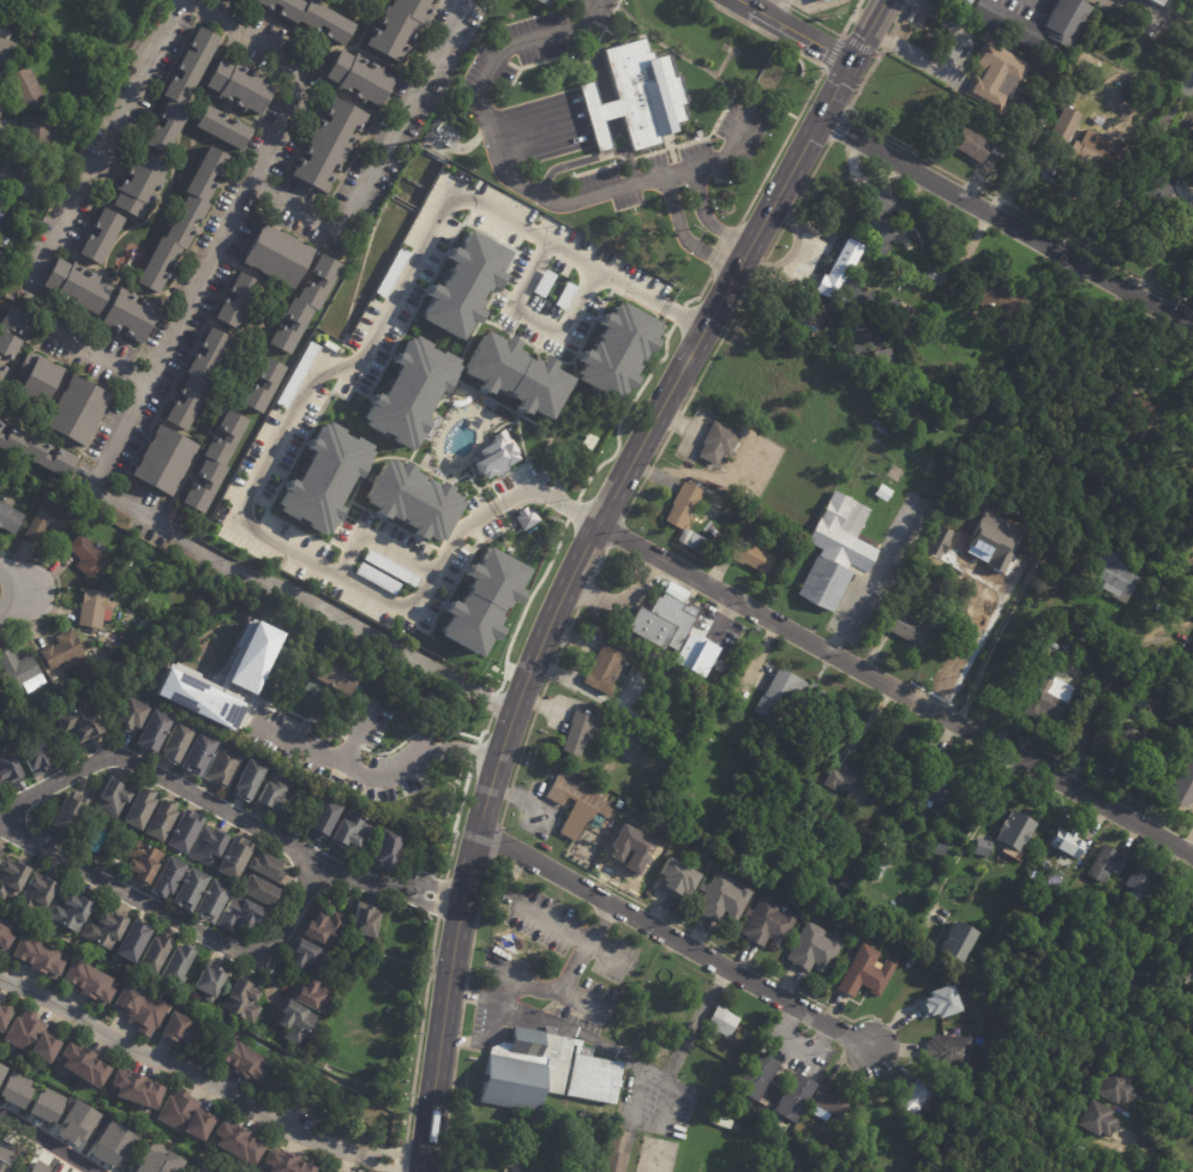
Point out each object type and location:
building: (239, 0)
building: (820, 0)
road: (1037, 1)
building: (545, 2)
road: (783, 2)
road: (909, 2)
building: (961, 2)
building: (1152, 2)
building: (1174, 5)
road: (774, 7)
building: (313, 18)
road: (1156, 19)
road: (606, 20)
road: (899, 20)
building: (1035, 25)
building: (400, 26)
road: (795, 30)
road: (609, 31)
road: (631, 31)
road: (832, 31)
road: (844, 35)
road: (527, 41)
road: (886, 43)
building: (7, 47)
road: (590, 47)
traffic signals: (851, 61)
road: (947, 62)
road: (532, 64)
road: (512, 65)
road: (298, 67)
building: (360, 77)
building: (995, 77)
building: (1161, 80)
building: (1185, 84)
road: (815, 85)
building: (240, 86)
building: (28, 88)
building: (182, 91)
building: (643, 91)
road: (594, 112)
road: (720, 114)
building: (1095, 120)
building: (1062, 125)
building: (223, 127)
road: (838, 128)
building: (38, 132)
building: (454, 142)
building: (330, 144)
road: (669, 146)
building: (970, 146)
building: (1090, 151)
road: (588, 158)
road: (628, 158)
road: (594, 168)
road: (678, 170)
road: (502, 172)
road: (810, 175)
building: (22, 181)
building: (140, 185)
road: (985, 193)
building: (1175, 202)
building: (903, 205)
building: (2, 209)
building: (41, 212)
road: (311, 215)
road: (705, 217)
road: (787, 217)
building: (876, 220)
building: (186, 222)
road: (1006, 222)
building: (102, 236)
road: (683, 236)
building: (4, 240)
road: (774, 241)
road: (724, 248)
road: (792, 251)
building: (1, 256)
building: (280, 256)
road: (760, 265)
building: (838, 269)
building: (390, 272)
building: (933, 275)
building: (462, 284)
building: (77, 286)
road: (701, 292)
building: (993, 296)
building: (239, 301)
building: (306, 305)
road: (679, 312)
road: (41, 314)
road: (685, 315)
building: (131, 317)
road: (535, 319)
building: (5, 335)
building: (1087, 341)
building: (864, 342)
road: (718, 343)
building: (615, 351)
building: (881, 357)
building: (2, 373)
building: (295, 374)
road: (312, 374)
building: (515, 374)
building: (41, 378)
building: (198, 380)
building: (265, 386)
building: (409, 392)
building: (987, 403)
building: (1187, 407)
building: (79, 410)
road: (623, 413)
building: (977, 415)
building: (1135, 416)
road: (676, 421)
road: (678, 423)
building: (936, 426)
building: (880, 427)
building: (713, 441)
road: (660, 449)
building: (38, 451)
building: (493, 456)
building: (167, 462)
building: (216, 462)
road: (647, 473)
road: (652, 474)
building: (1087, 476)
building: (323, 477)
road: (551, 480)
building: (880, 492)
building: (48, 494)
road: (512, 495)
road: (633, 498)
building: (410, 499)
road: (563, 504)
building: (681, 505)
road: (571, 509)
building: (524, 518)
building: (10, 519)
building: (50, 521)
road: (615, 533)
road: (374, 539)
building: (689, 540)
building: (130, 546)
building: (835, 552)
building: (749, 554)
building: (89, 557)
road: (578, 558)
road: (599, 564)
building: (390, 567)
building: (1114, 572)
road: (874, 575)
building: (925, 576)
building: (376, 578)
building: (113, 589)
road: (26, 590)
road: (58, 591)
building: (127, 591)
road: (583, 593)
building: (481, 601)
road: (526, 605)
building: (94, 607)
road: (623, 608)
road: (572, 617)
building: (663, 621)
road: (349, 624)
road: (1003, 625)
building: (905, 627)
road: (564, 635)
building: (1191, 649)
building: (60, 650)
road: (557, 653)
building: (693, 654)
building: (251, 656)
road: (581, 662)
building: (23, 672)
road: (550, 672)
building: (598, 674)
building: (0, 678)
building: (324, 681)
road: (257, 683)
road: (544, 686)
road: (894, 687)
building: (785, 697)
building: (196, 698)
road: (492, 702)
road: (536, 703)
building: (1049, 703)
road: (540, 704)
road: (250, 711)
building: (136, 716)
building: (84, 722)
road: (316, 725)
road: (432, 727)
building: (155, 729)
building: (575, 729)
road: (356, 733)
building: (1098, 738)
building: (178, 741)
road: (352, 741)
road: (521, 747)
building: (1139, 747)
building: (199, 752)
road: (474, 752)
building: (37, 759)
building: (10, 765)
building: (226, 767)
road: (371, 776)
building: (250, 779)
building: (935, 782)
building: (847, 783)
building: (1182, 786)
building: (1161, 787)
building: (276, 793)
road: (508, 794)
road: (196, 795)
building: (114, 798)
road: (527, 801)
building: (617, 805)
building: (140, 807)
building: (810, 809)
building: (70, 812)
building: (582, 813)
road: (502, 815)
building: (162, 818)
building: (325, 818)
road: (455, 822)
building: (353, 830)
building: (895, 830)
building: (186, 831)
road: (973, 833)
building: (1009, 833)
road: (493, 840)
building: (1065, 843)
building: (211, 847)
building: (389, 847)
building: (981, 847)
building: (827, 849)
building: (1, 857)
building: (236, 857)
building: (945, 859)
building: (143, 863)
building: (1063, 863)
building: (1103, 864)
building: (965, 865)
building: (269, 866)
building: (876, 866)
road: (636, 876)
building: (169, 877)
building: (13, 878)
building: (675, 880)
building: (1137, 880)
road: (401, 884)
road: (437, 886)
building: (191, 888)
building: (260, 890)
building: (409, 890)
road: (400, 891)
building: (38, 895)
road: (442, 897)
building: (721, 900)
building: (215, 901)
building: (801, 901)
road: (432, 907)
building: (71, 910)
building: (807, 913)
building: (242, 914)
building: (367, 920)
road: (474, 920)
road: (176, 921)
building: (766, 926)
building: (328, 928)
building: (107, 930)
building: (6, 933)
building: (849, 936)
road: (673, 939)
building: (136, 940)
building: (952, 942)
building: (516, 943)
building: (810, 949)
building: (156, 952)
road: (729, 952)
building: (38, 956)
building: (311, 957)
building: (179, 963)
building: (864, 973)
road: (569, 978)
building: (211, 979)
building: (90, 981)
building: (318, 996)
road: (462, 996)
building: (245, 999)
building: (940, 1002)
building: (140, 1008)
building: (390, 1010)
building: (5, 1016)
road: (493, 1017)
road: (460, 1018)
building: (296, 1021)
road: (694, 1021)
building: (719, 1021)
building: (180, 1029)
road: (420, 1029)
building: (943, 1029)
building: (34, 1036)
road: (456, 1041)
road: (791, 1046)
building: (947, 1053)
building: (246, 1060)
building: (85, 1064)
road: (640, 1064)
road: (179, 1068)
road: (652, 1070)
building: (544, 1071)
building: (754, 1076)
building: (1109, 1088)
building: (138, 1089)
building: (1186, 1089)
building: (790, 1098)
building: (913, 1098)
building: (825, 1104)
road: (446, 1110)
building: (870, 1114)
building: (188, 1116)
building: (1095, 1120)
building: (720, 1122)
building: (76, 1124)
building: (240, 1141)
road: (47, 1142)
building: (110, 1143)
road: (391, 1152)
building: (615, 1152)
road: (1147, 1153)
road: (402, 1156)
building: (791, 1158)
building: (154, 1161)
building: (286, 1162)
road: (382, 1166)
building: (35, 1167)
building: (200, 1170)
building: (341, 1171)

